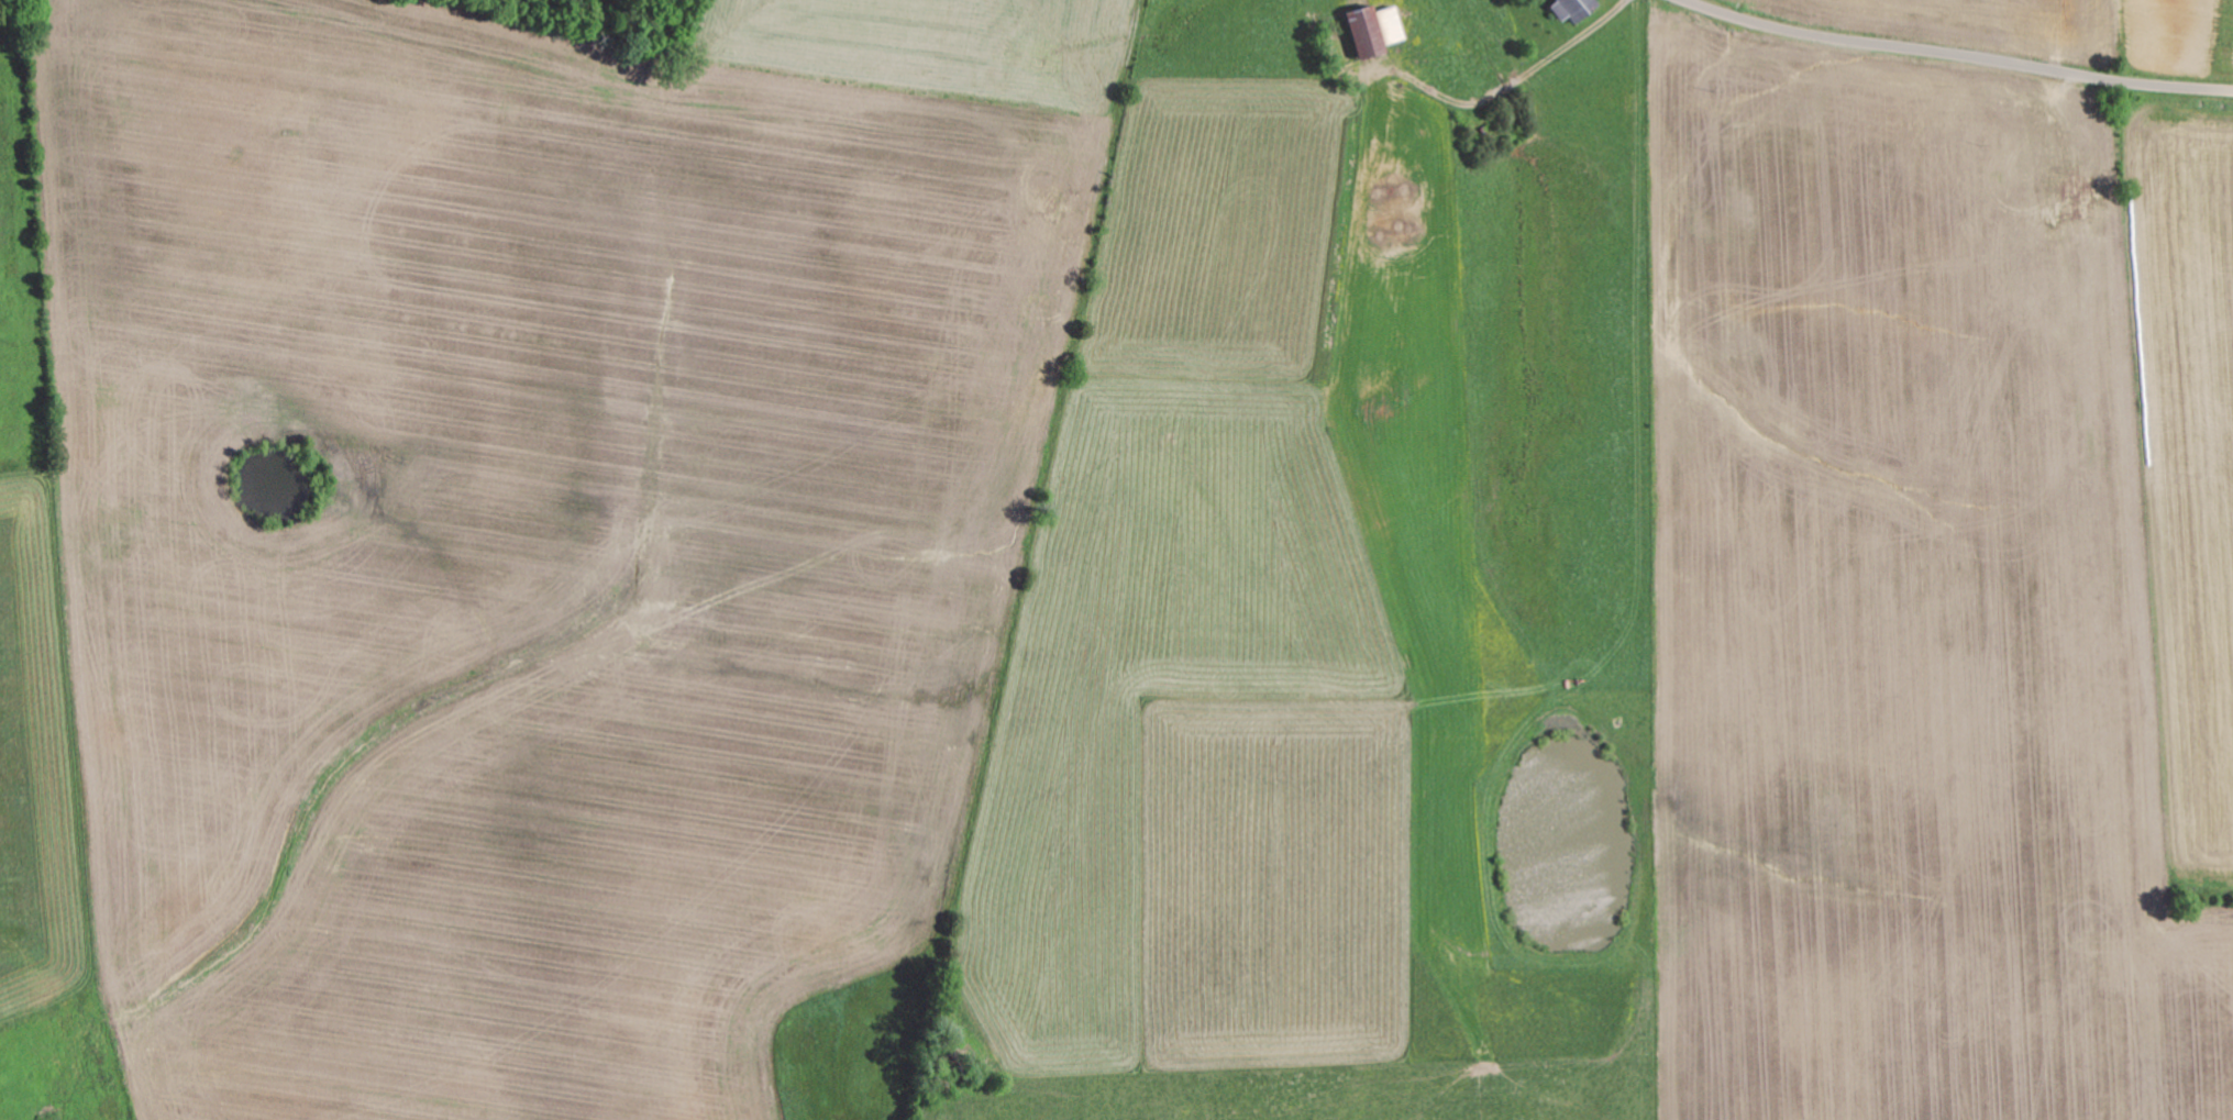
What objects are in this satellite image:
building: (1574, 8)
building: (1378, 30)
road: (1956, 55)
road: (1342, 377)

